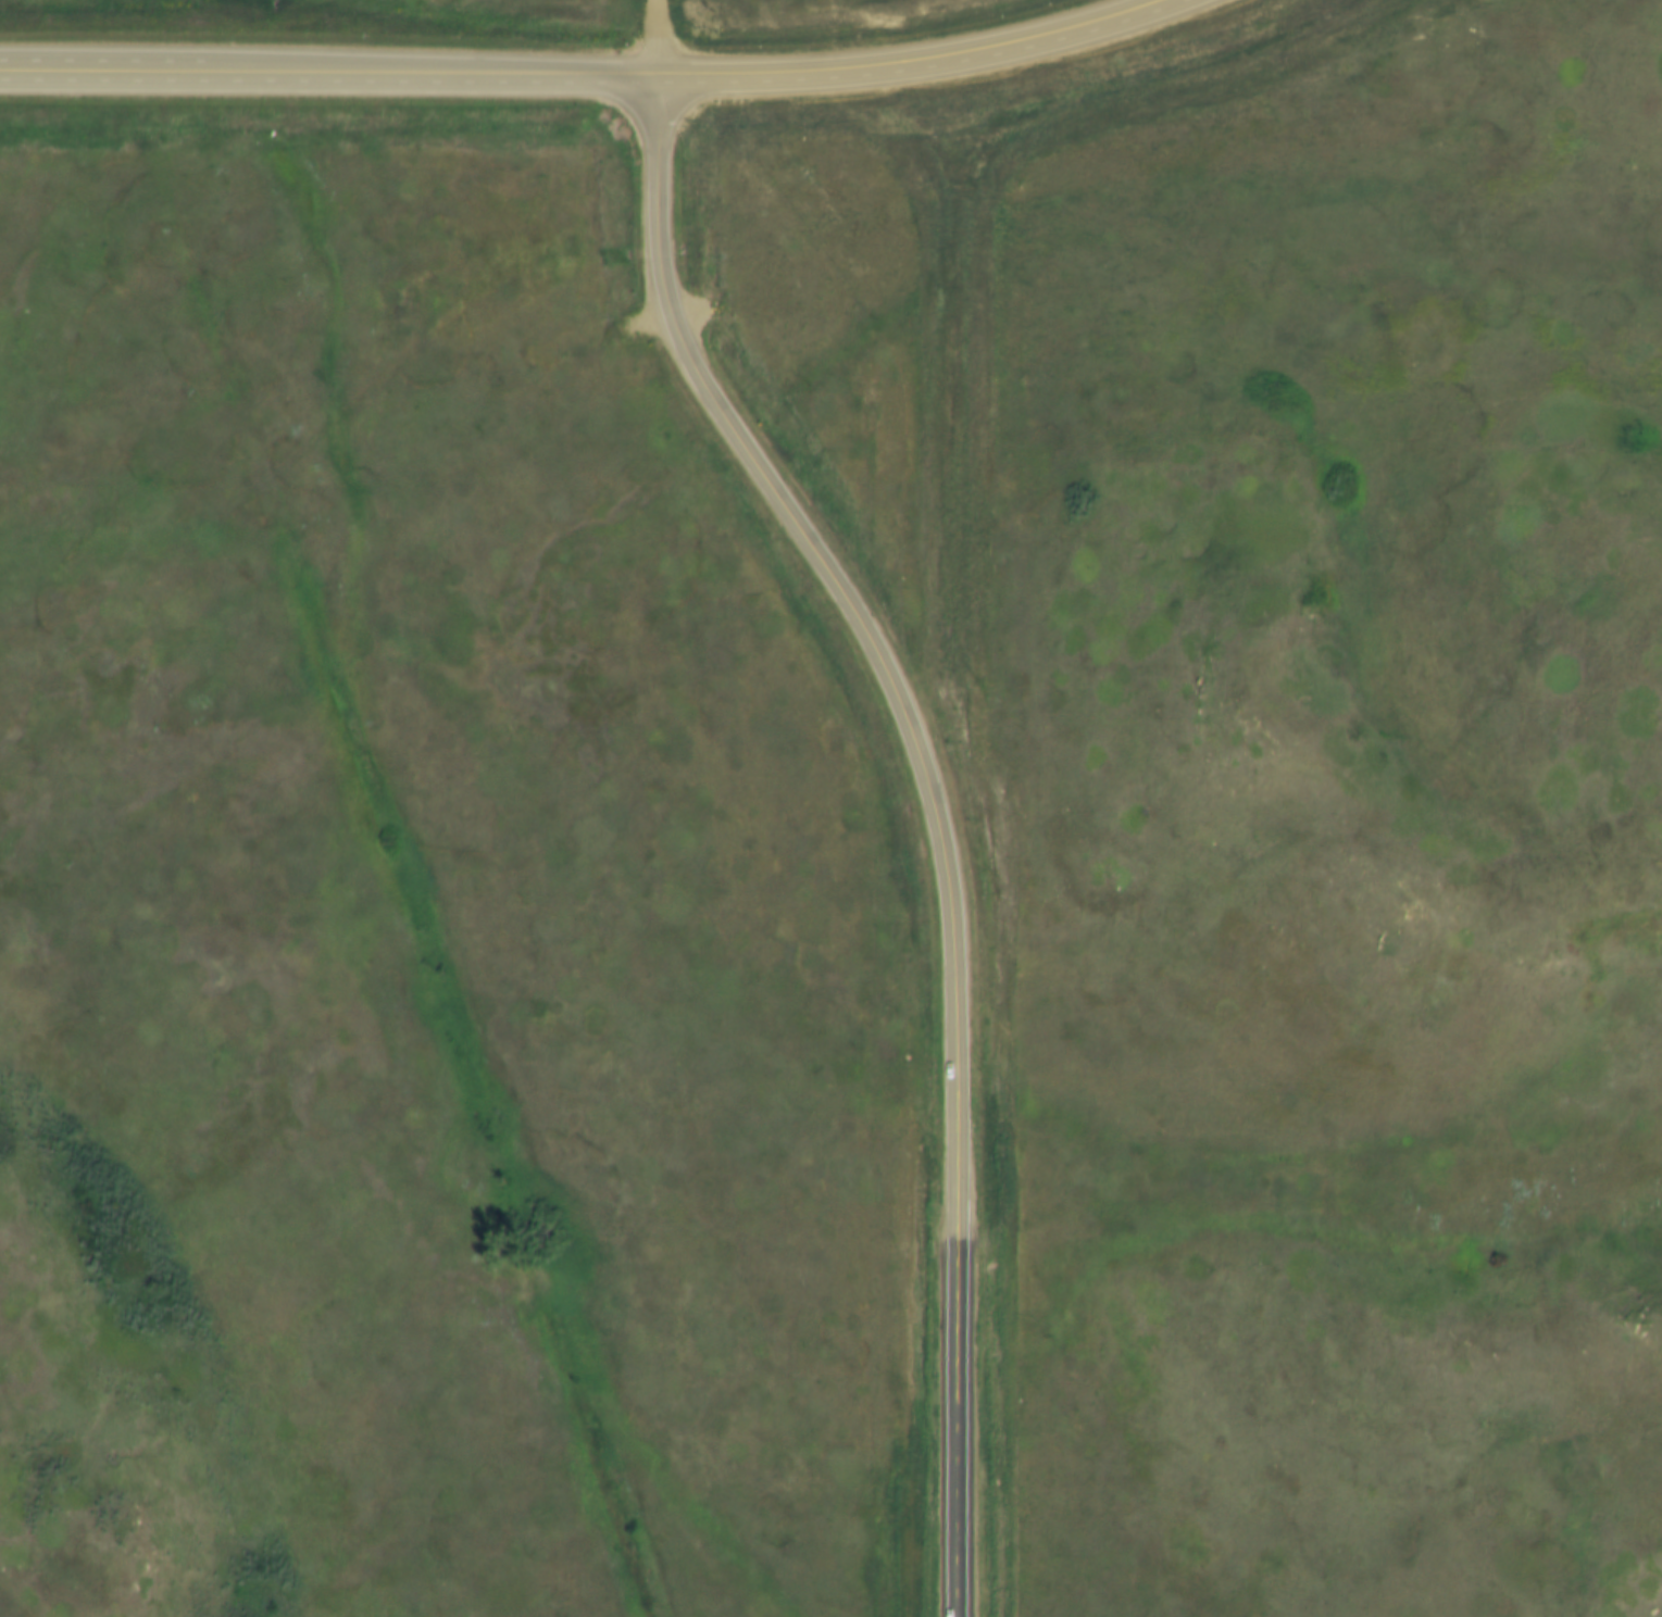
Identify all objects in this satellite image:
road: (659, 34)
road: (585, 67)
road: (657, 137)
road: (949, 876)

